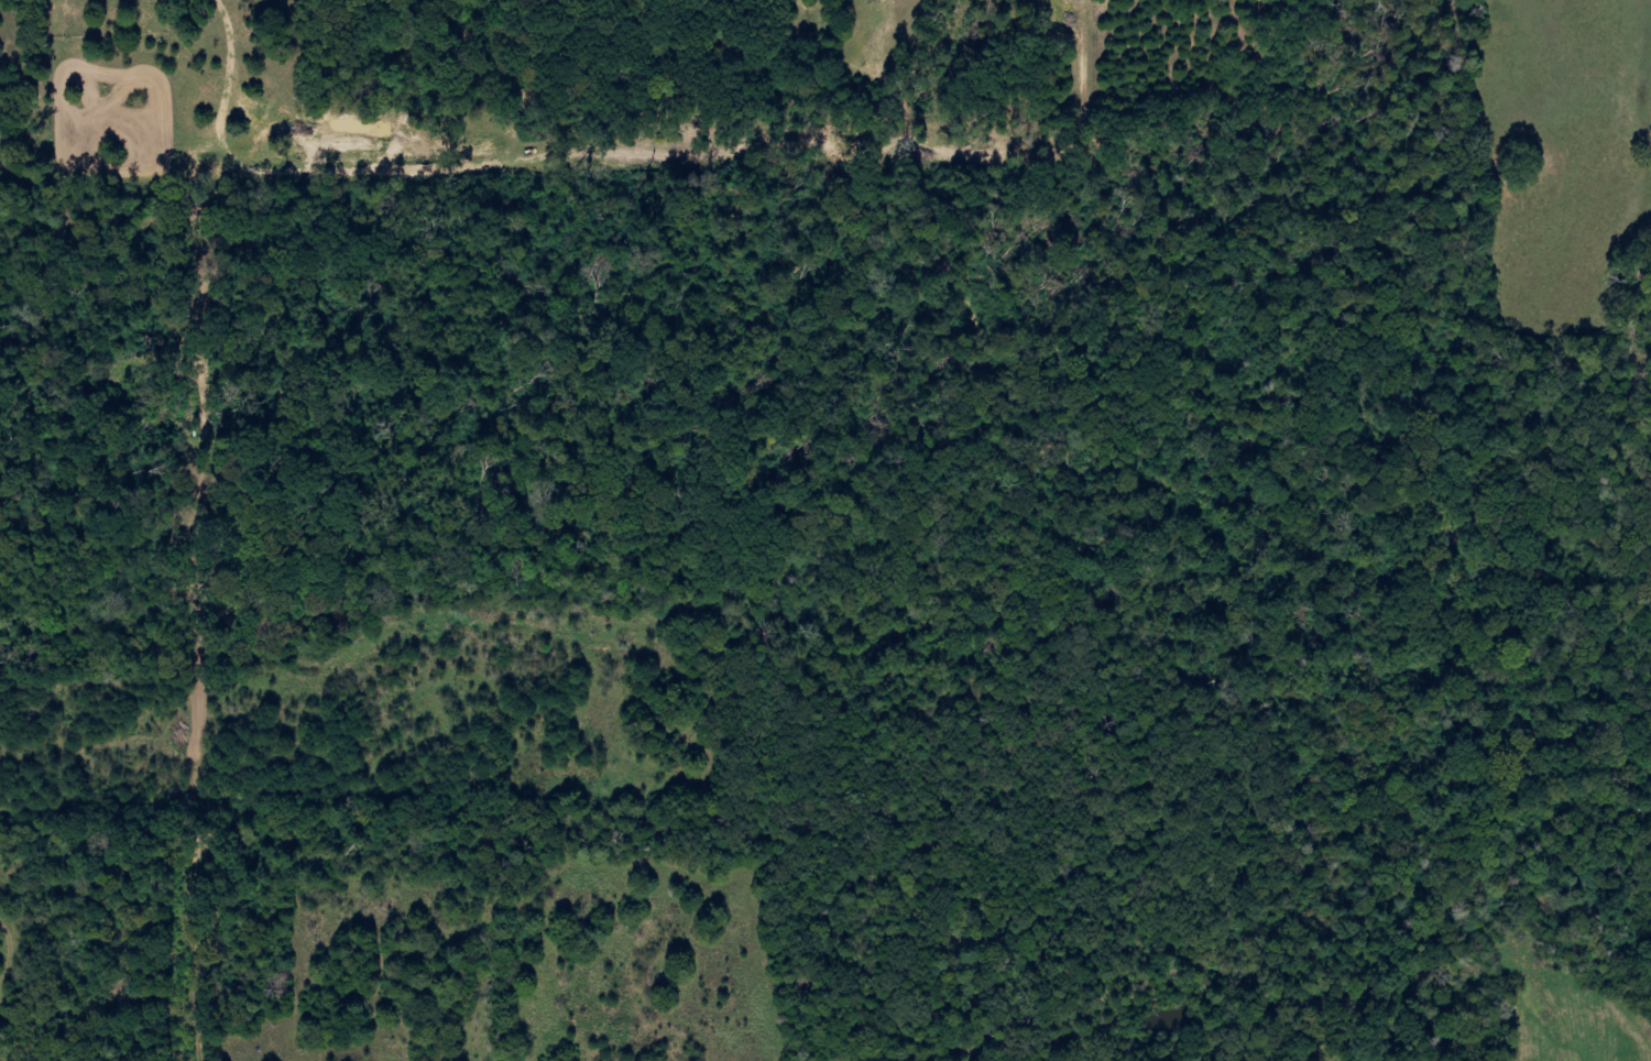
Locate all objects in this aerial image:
road: (1442, 70)

